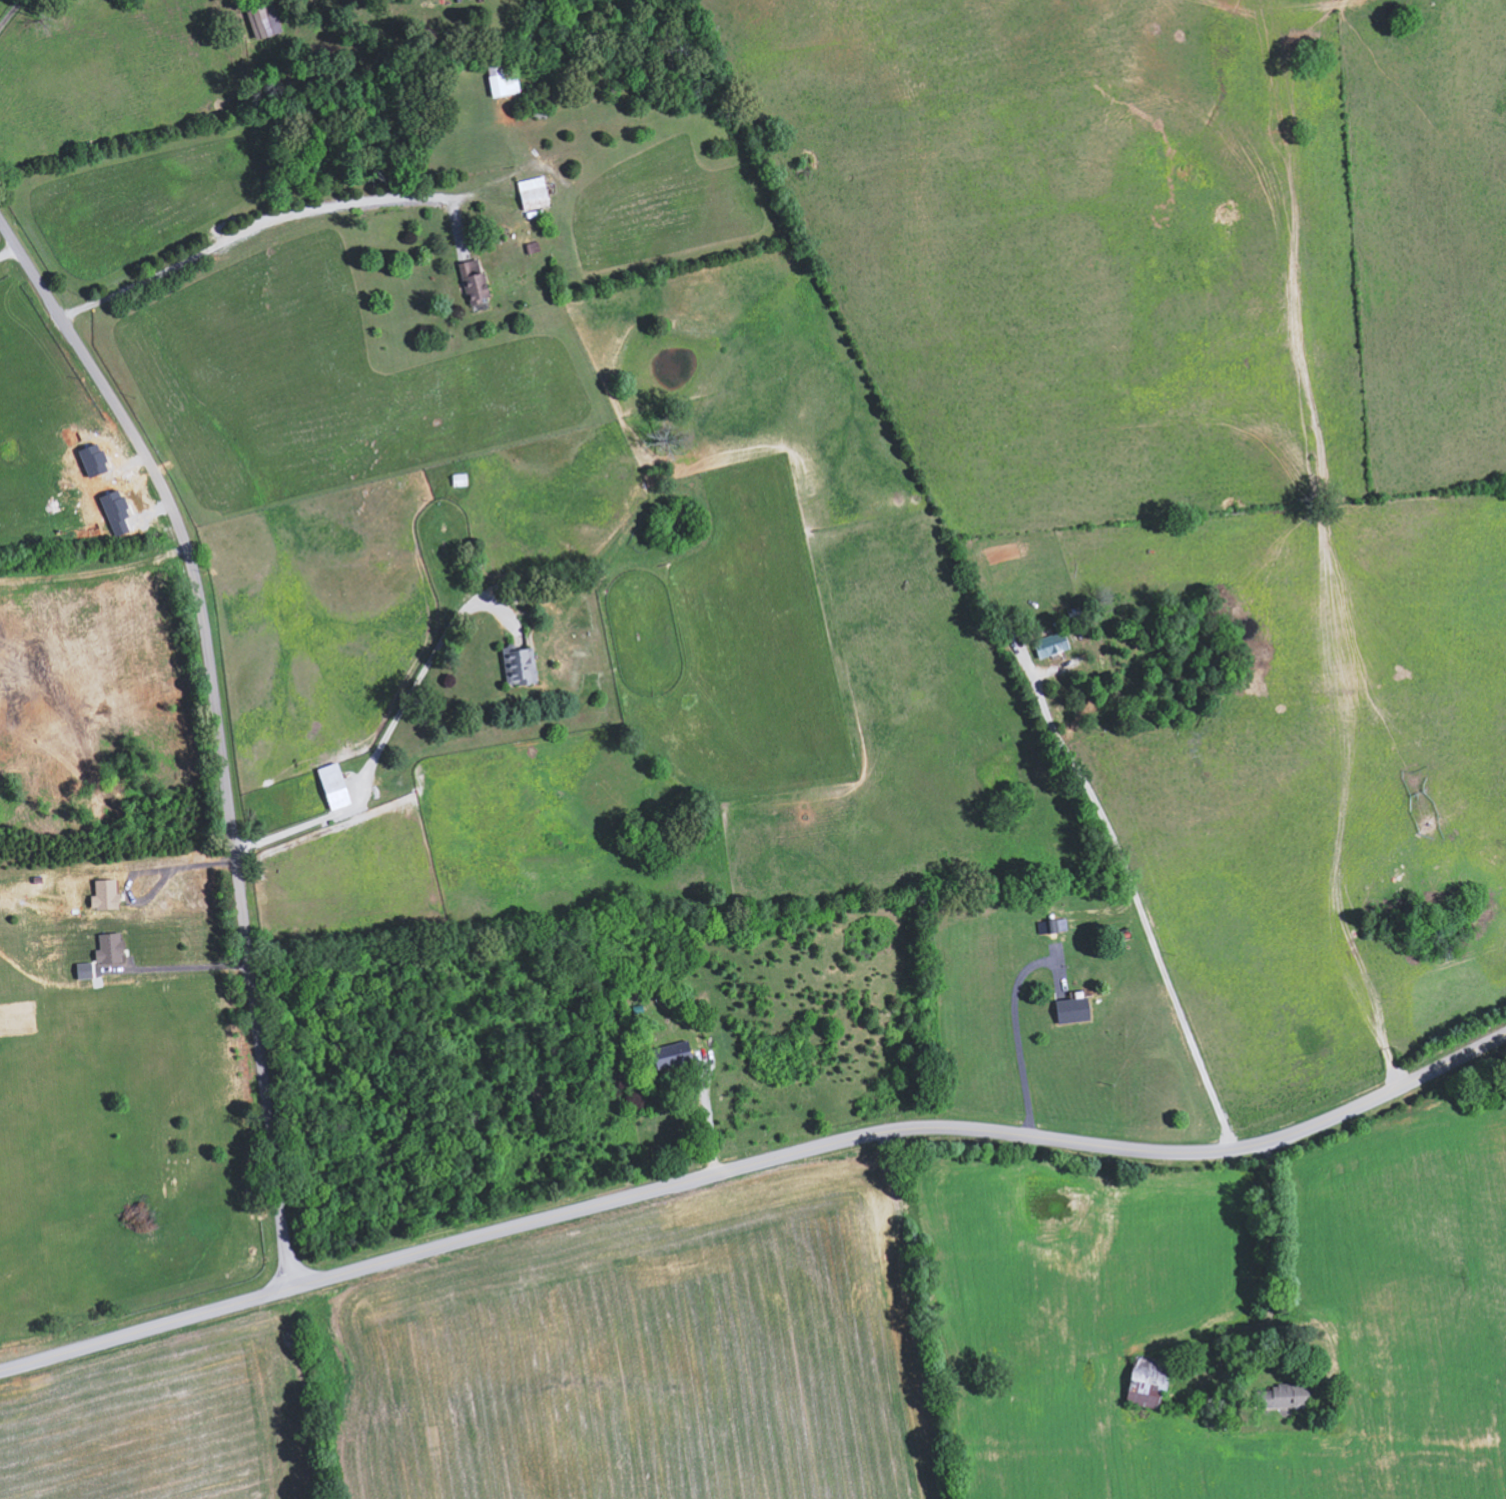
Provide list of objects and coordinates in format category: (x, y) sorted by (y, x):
road: (10, 13)
building: (265, 18)
building: (504, 80)
building: (536, 193)
road: (272, 219)
road: (8, 252)
building: (476, 281)
building: (1054, 645)
building: (521, 666)
road: (218, 732)
road: (387, 733)
building: (337, 786)
road: (1141, 905)
building: (1075, 1010)
road: (1016, 1036)
building: (675, 1055)
road: (754, 1169)
building: (1151, 1382)
building: (1285, 1397)

